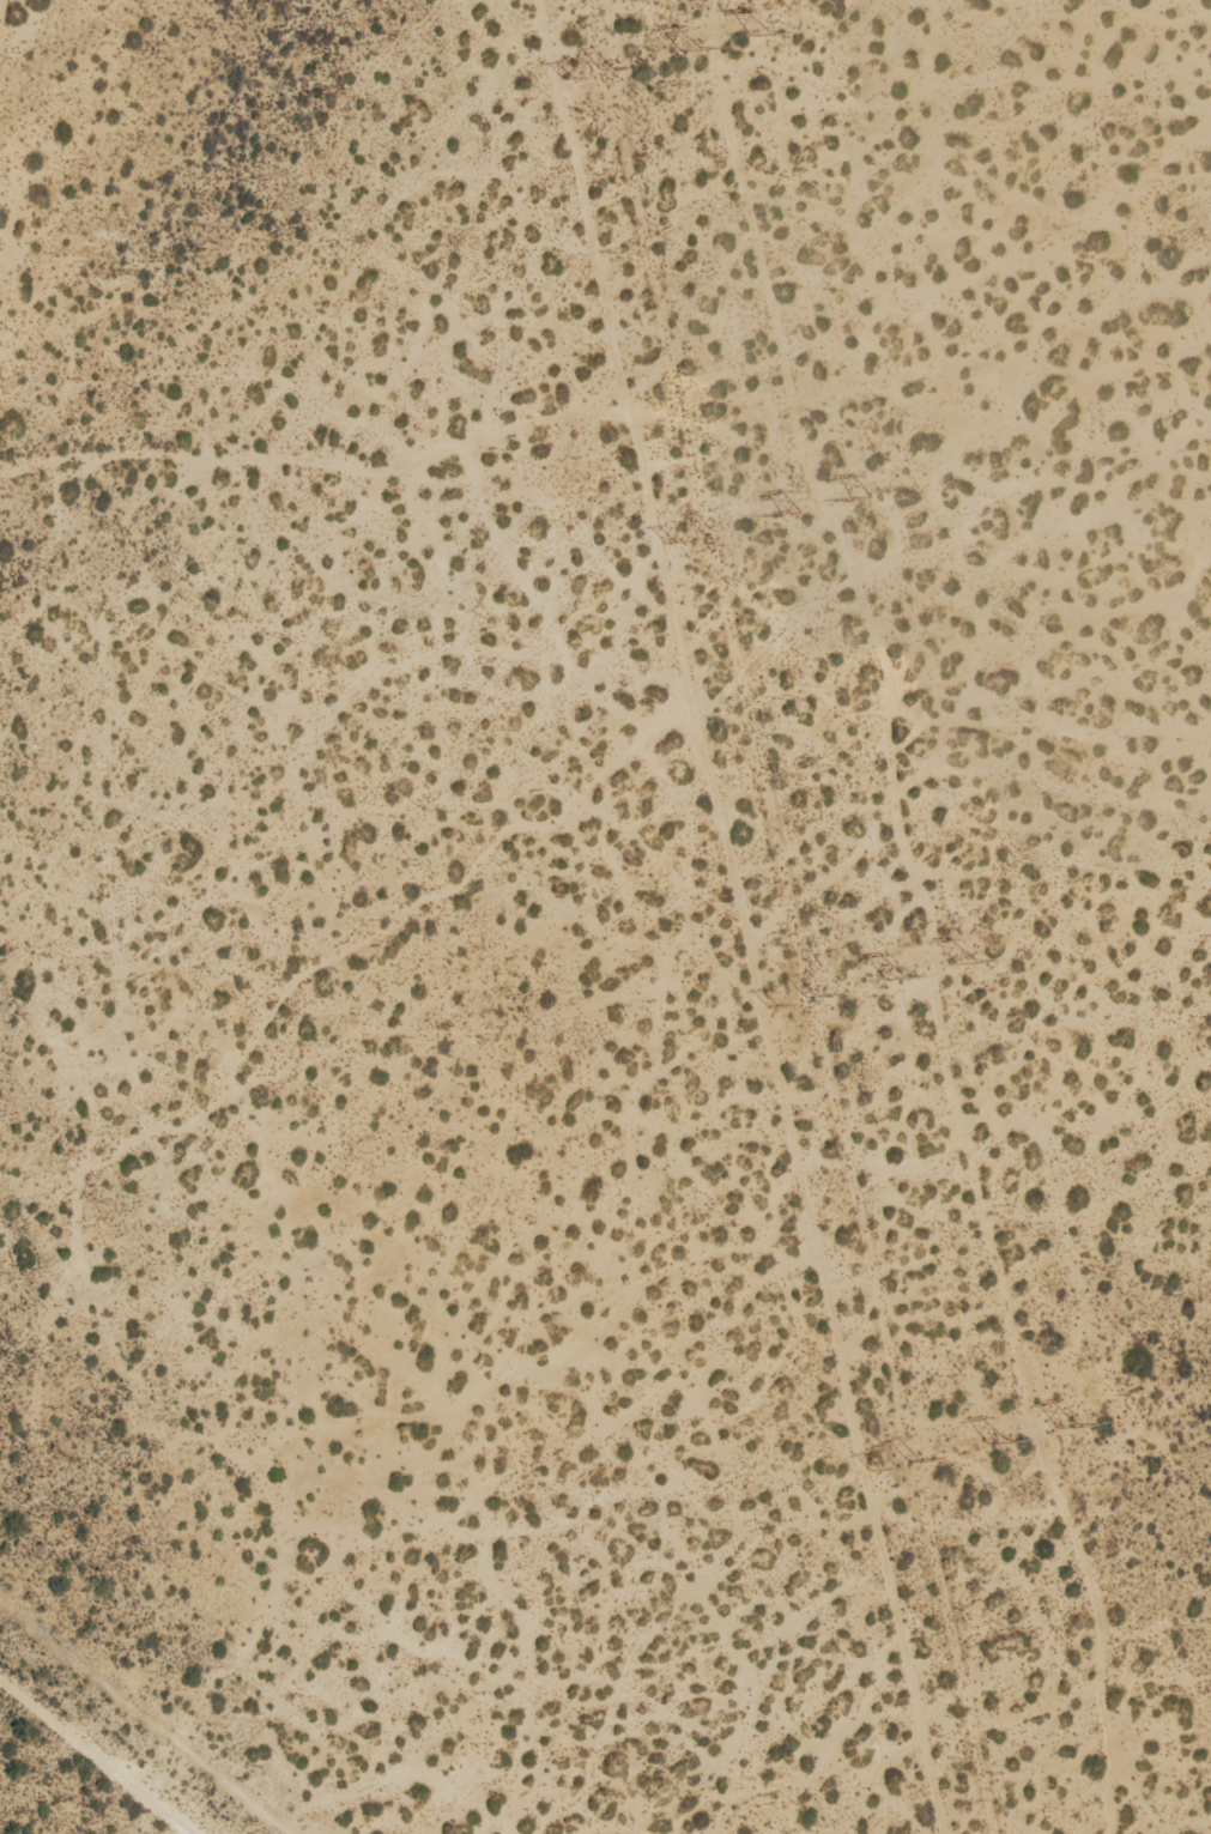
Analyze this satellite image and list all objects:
power tower: (758, 28)
power tower: (686, 43)
power tower: (862, 497)
power tower: (789, 510)
power tower: (962, 957)
power tower: (891, 972)
power tower: (1065, 1423)
power tower: (994, 1439)

